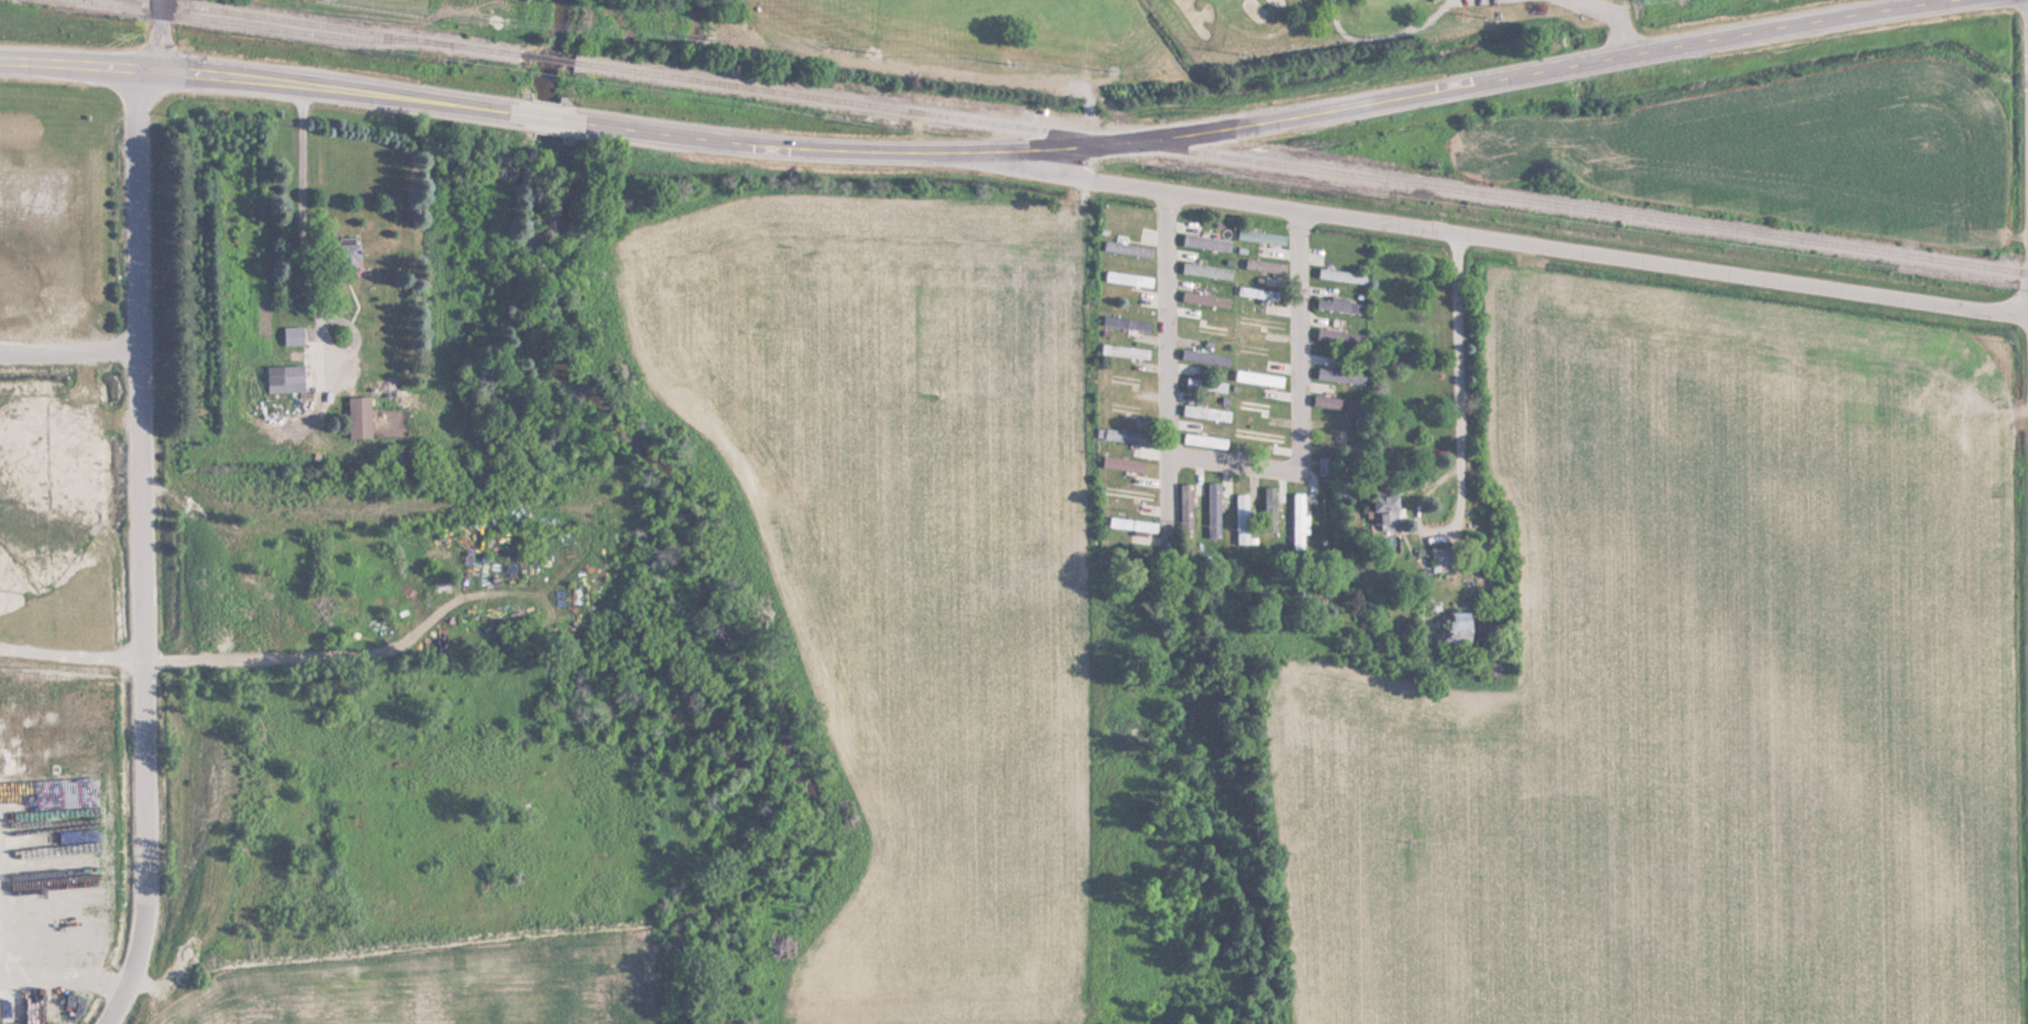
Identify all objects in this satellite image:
railway: (252, 26)
railway: (328, 27)
road: (160, 33)
park: (1031, 36)
railway: (548, 60)
road: (78, 62)
road: (346, 88)
road: (551, 118)
road: (1266, 122)
railway: (1302, 168)
building: (1206, 243)
road: (1511, 243)
building: (1128, 249)
building: (346, 254)
building: (1264, 266)
building: (1206, 271)
building: (1341, 276)
building: (1126, 279)
building: (1257, 293)
building: (1204, 299)
building: (1339, 305)
building: (1205, 328)
building: (1327, 335)
building: (292, 336)
building: (1124, 351)
building: (1204, 357)
building: (1339, 375)
building: (284, 379)
building: (1205, 385)
building: (1336, 403)
building: (1257, 406)
building: (1205, 413)
building: (359, 417)
building: (1259, 435)
building: (1126, 437)
building: (1203, 439)
road: (1230, 459)
building: (1122, 464)
building: (1323, 466)
road: (1167, 484)
building: (1128, 495)
building: (1185, 508)
building: (1383, 508)
building: (1213, 510)
building: (1271, 514)
building: (1241, 519)
building: (1137, 526)
road: (141, 547)
building: (1438, 557)
building: (1443, 629)
road: (70, 656)
road: (19, 756)
road: (107, 860)
road: (64, 984)

